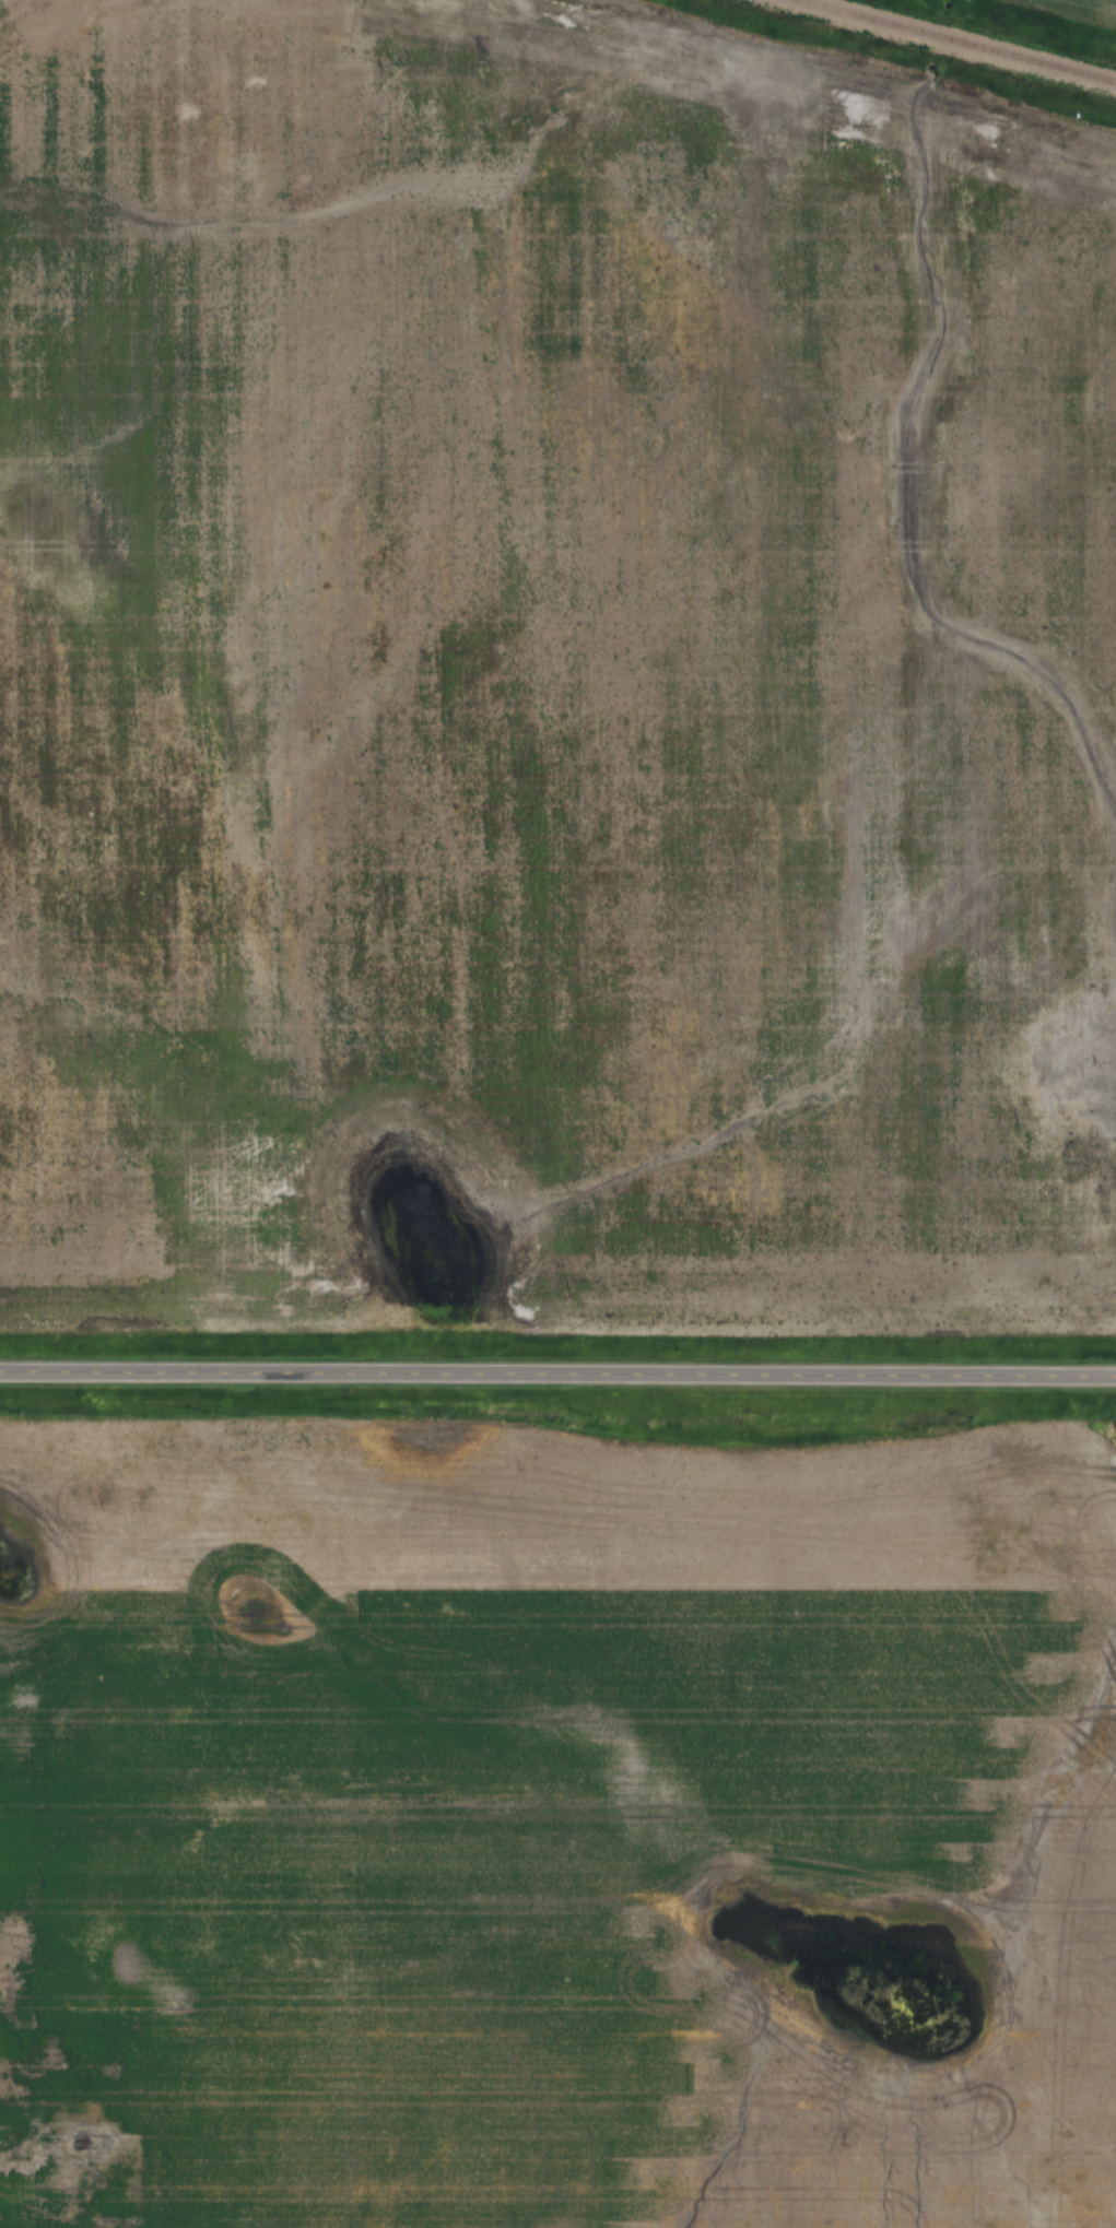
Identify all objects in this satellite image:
railway: (955, 40)
road: (557, 1375)
crop: (554, 1828)

